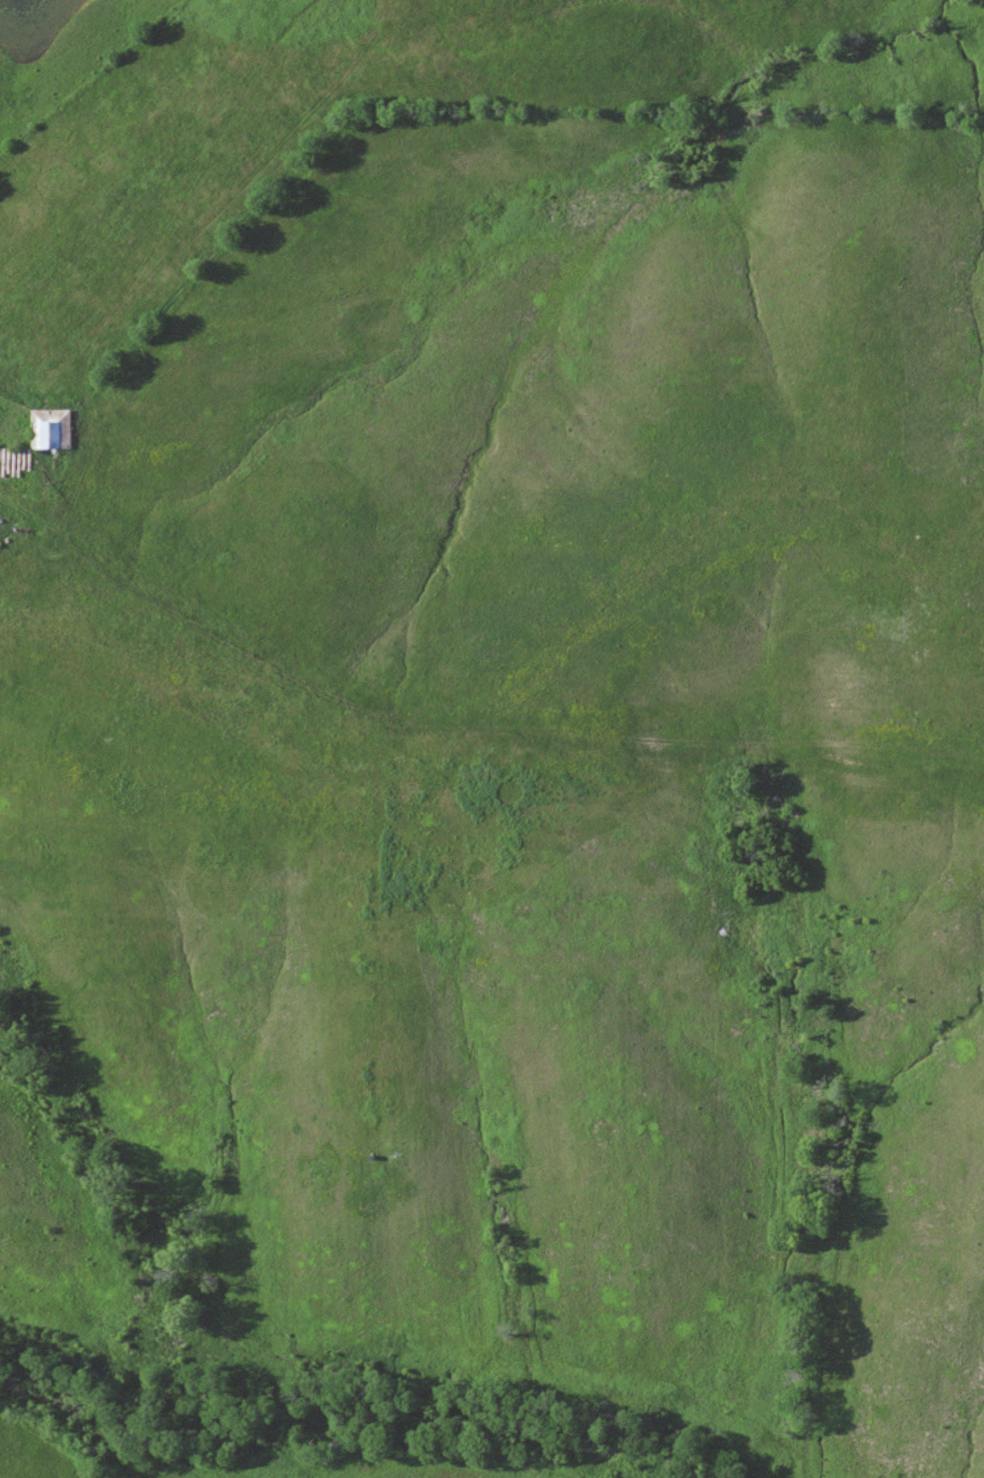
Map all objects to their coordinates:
building: (49, 430)

